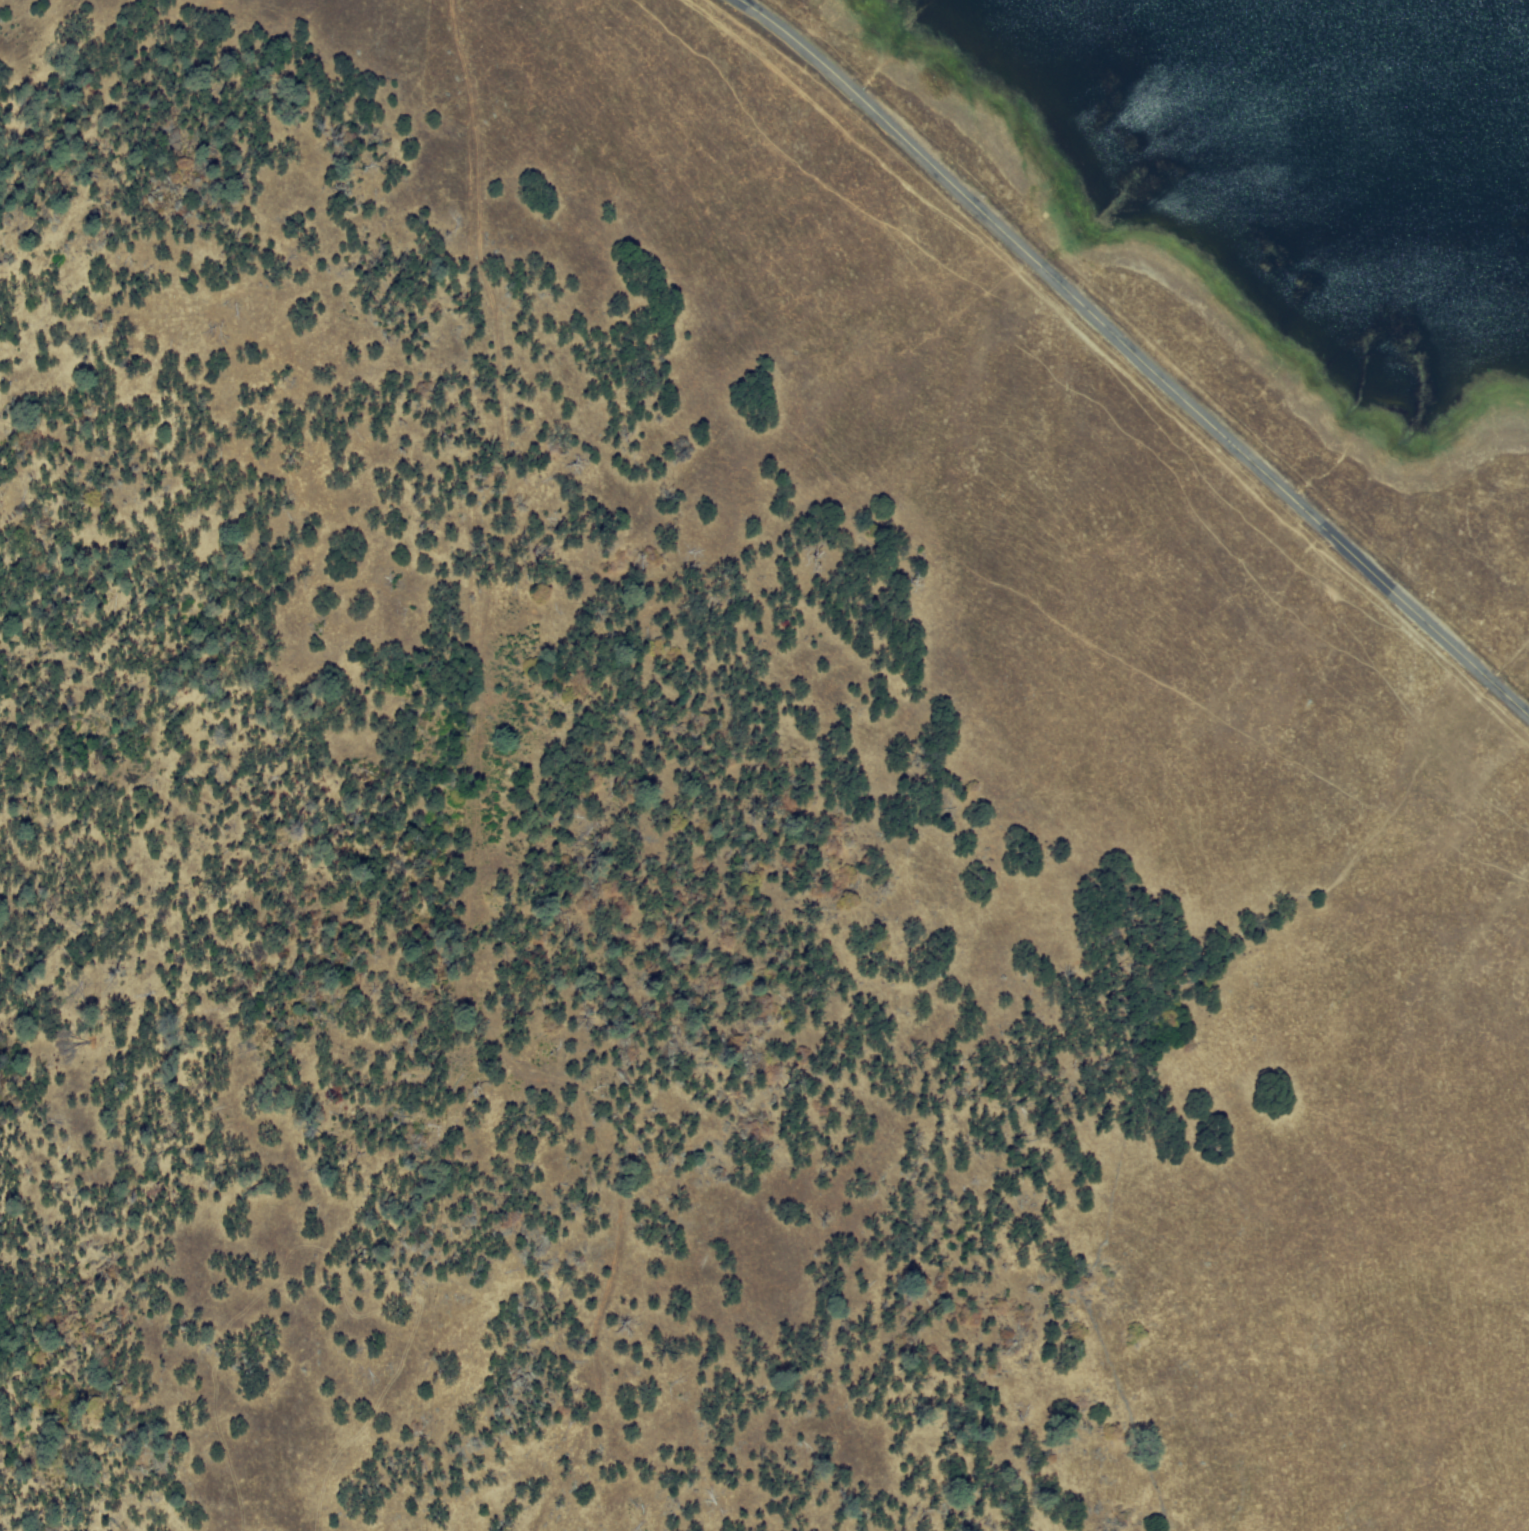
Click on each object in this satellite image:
road: (1137, 354)

